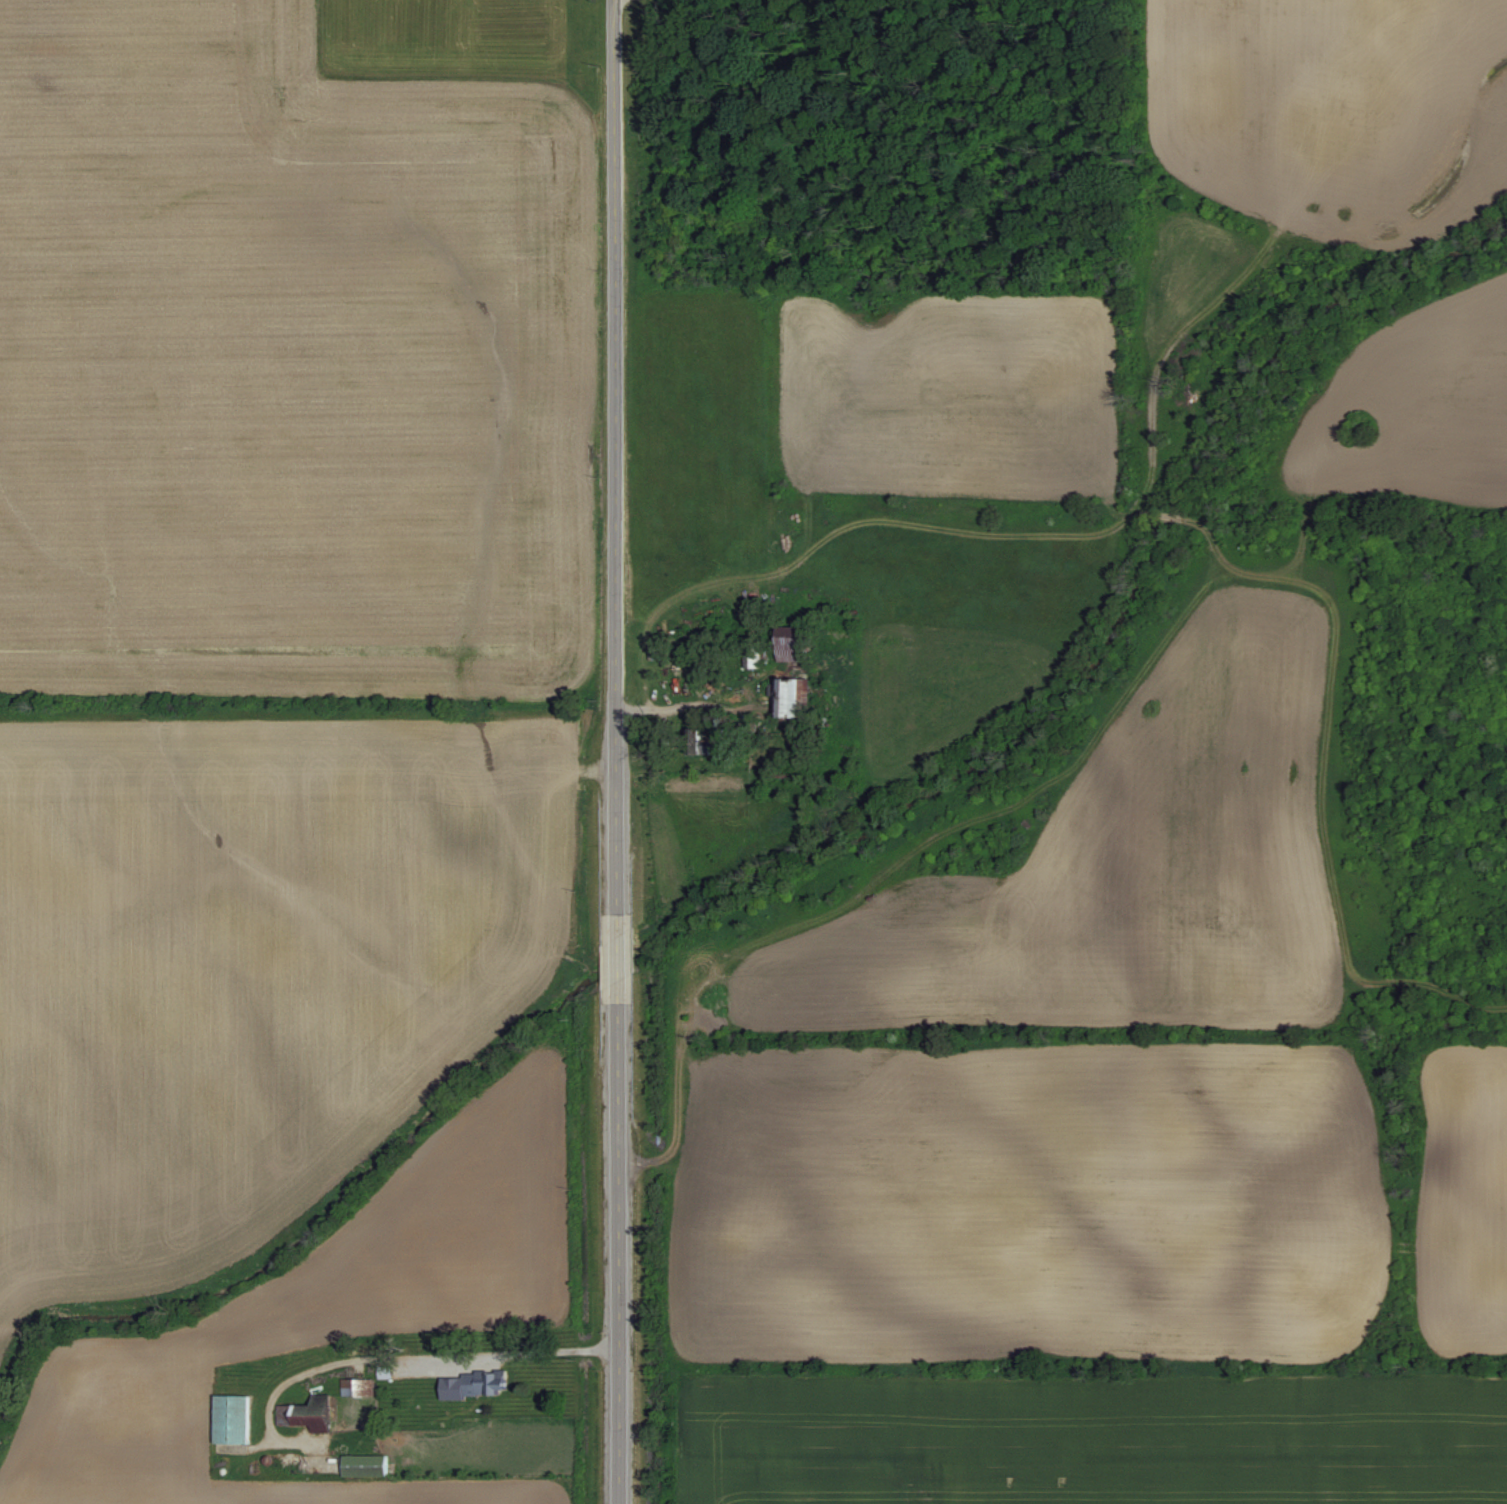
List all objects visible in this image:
building: (801, 644)
building: (754, 661)
building: (799, 697)
road: (614, 751)
road: (486, 1358)
building: (492, 1381)
building: (361, 1386)
building: (320, 1412)
building: (237, 1418)
building: (381, 1463)

